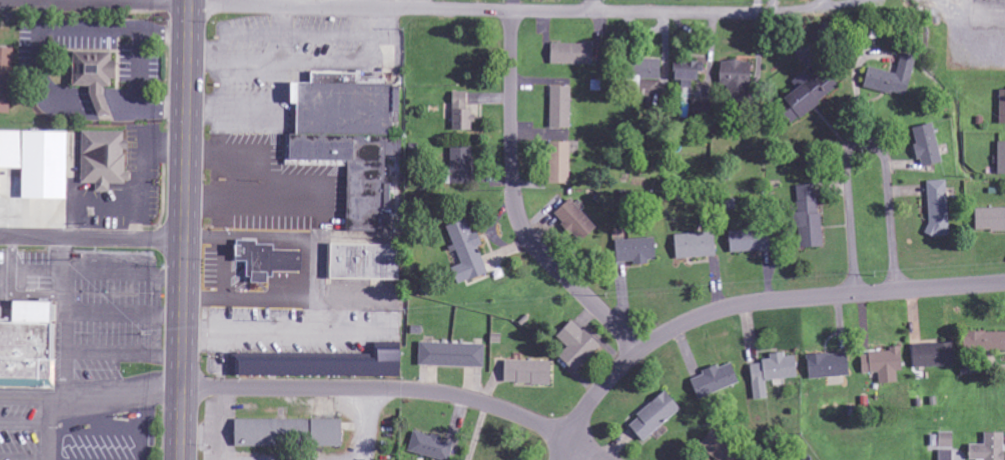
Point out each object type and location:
road: (592, 7)
road: (387, 8)
building: (570, 54)
building: (685, 72)
building: (638, 73)
building: (89, 76)
building: (733, 76)
building: (888, 78)
building: (4, 79)
building: (802, 97)
building: (456, 100)
building: (557, 107)
building: (1000, 107)
building: (460, 120)
building: (344, 139)
road: (863, 142)
building: (924, 146)
building: (101, 159)
building: (1000, 159)
building: (35, 163)
building: (557, 163)
building: (457, 167)
road: (516, 205)
building: (935, 209)
building: (805, 217)
building: (988, 220)
building: (572, 221)
road: (184, 229)
road: (92, 240)
building: (745, 241)
building: (691, 246)
building: (632, 251)
building: (464, 253)
building: (261, 261)
building: (359, 262)
road: (748, 302)
building: (983, 341)
building: (24, 345)
building: (573, 345)
building: (448, 354)
building: (929, 355)
building: (320, 364)
building: (880, 364)
building: (824, 365)
building: (524, 372)
building: (724, 372)
building: (769, 372)
road: (400, 390)
building: (659, 407)
building: (284, 432)
building: (942, 439)
building: (427, 446)
building: (986, 448)
building: (944, 455)

